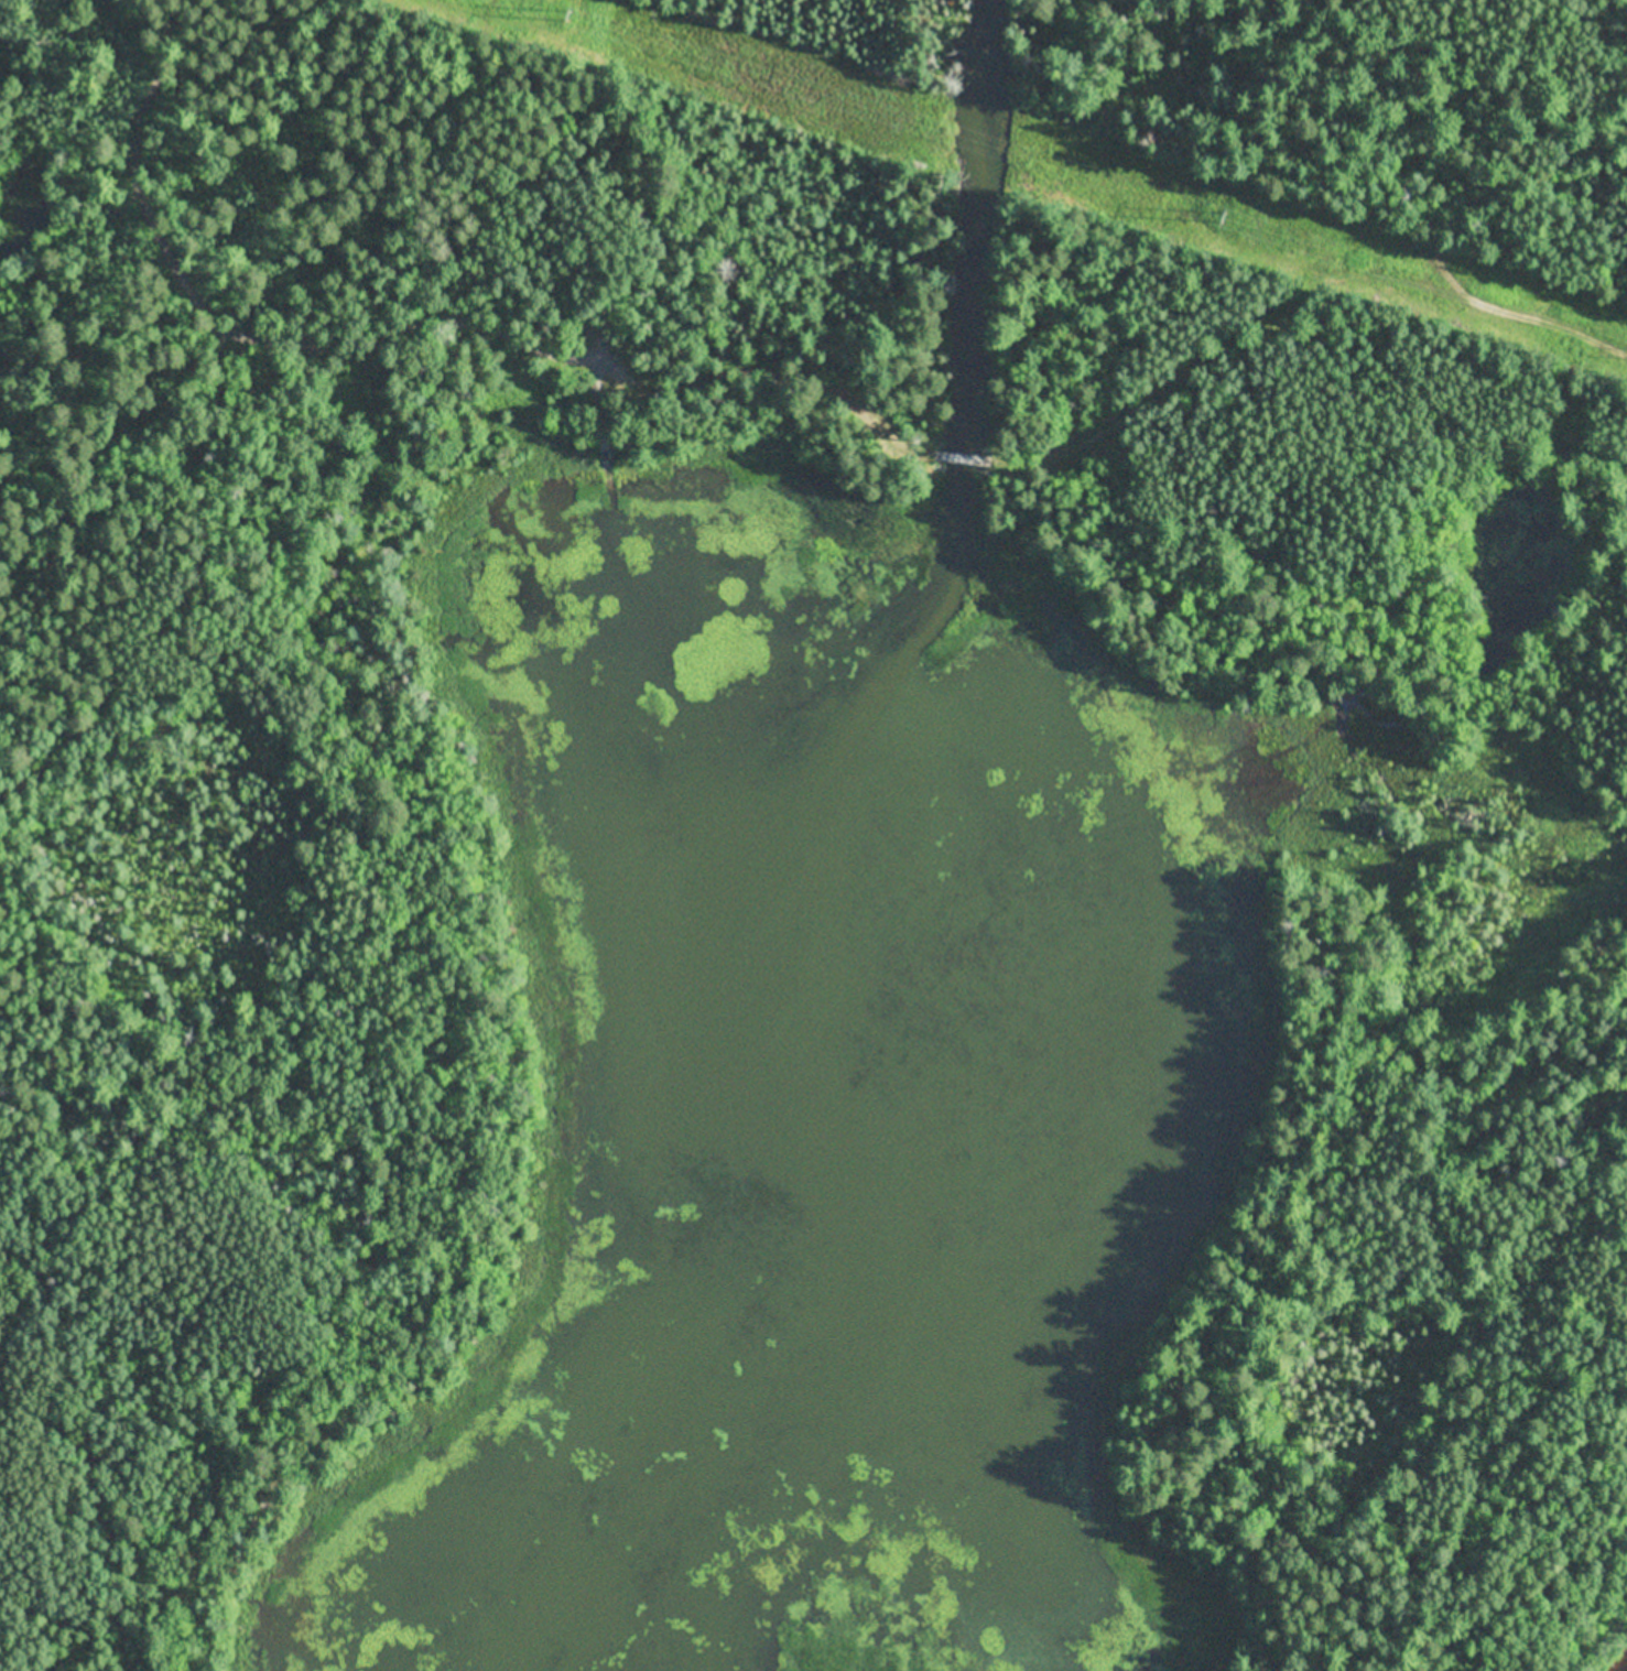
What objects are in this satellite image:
road: (205, 285)
road: (169, 565)
road: (74, 1454)

